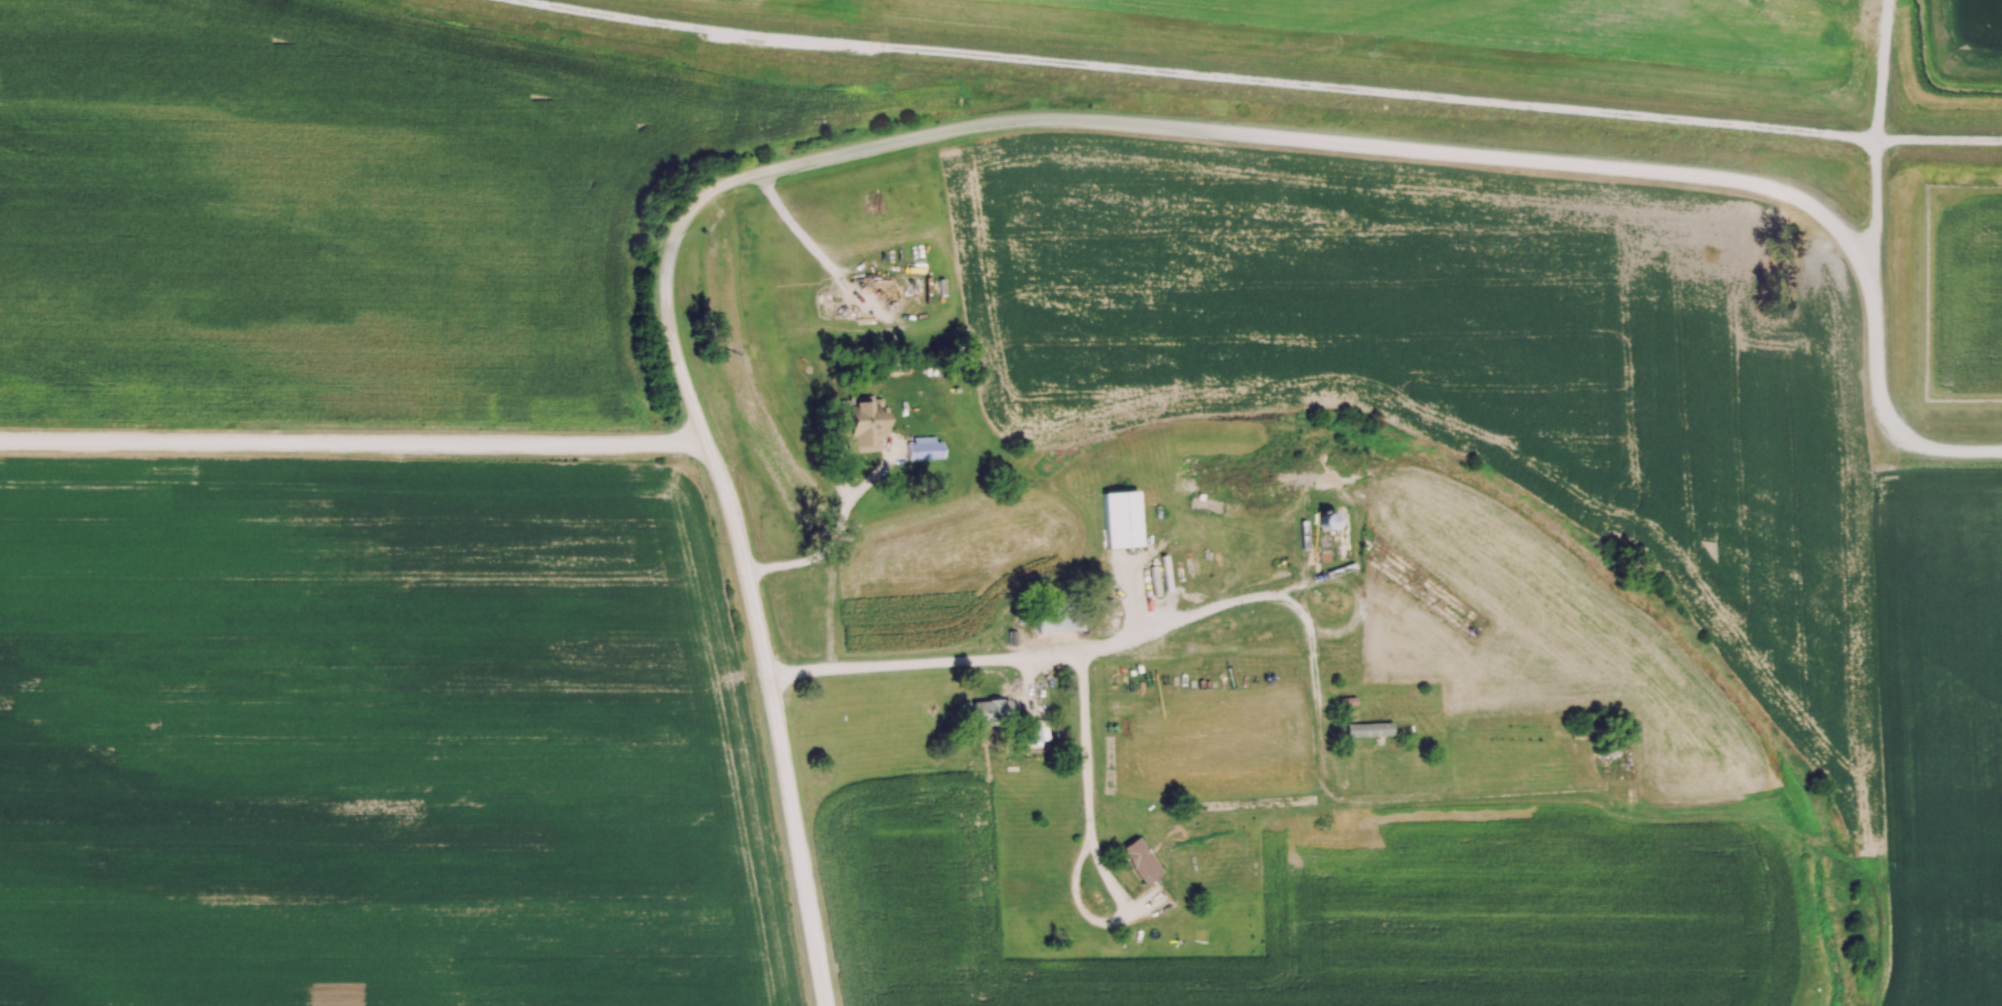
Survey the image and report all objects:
road: (1290, 71)
road: (1266, 135)
road: (354, 443)
road: (1963, 450)
road: (829, 532)
road: (1258, 596)
road: (769, 722)
road: (1080, 746)
road: (1112, 913)

